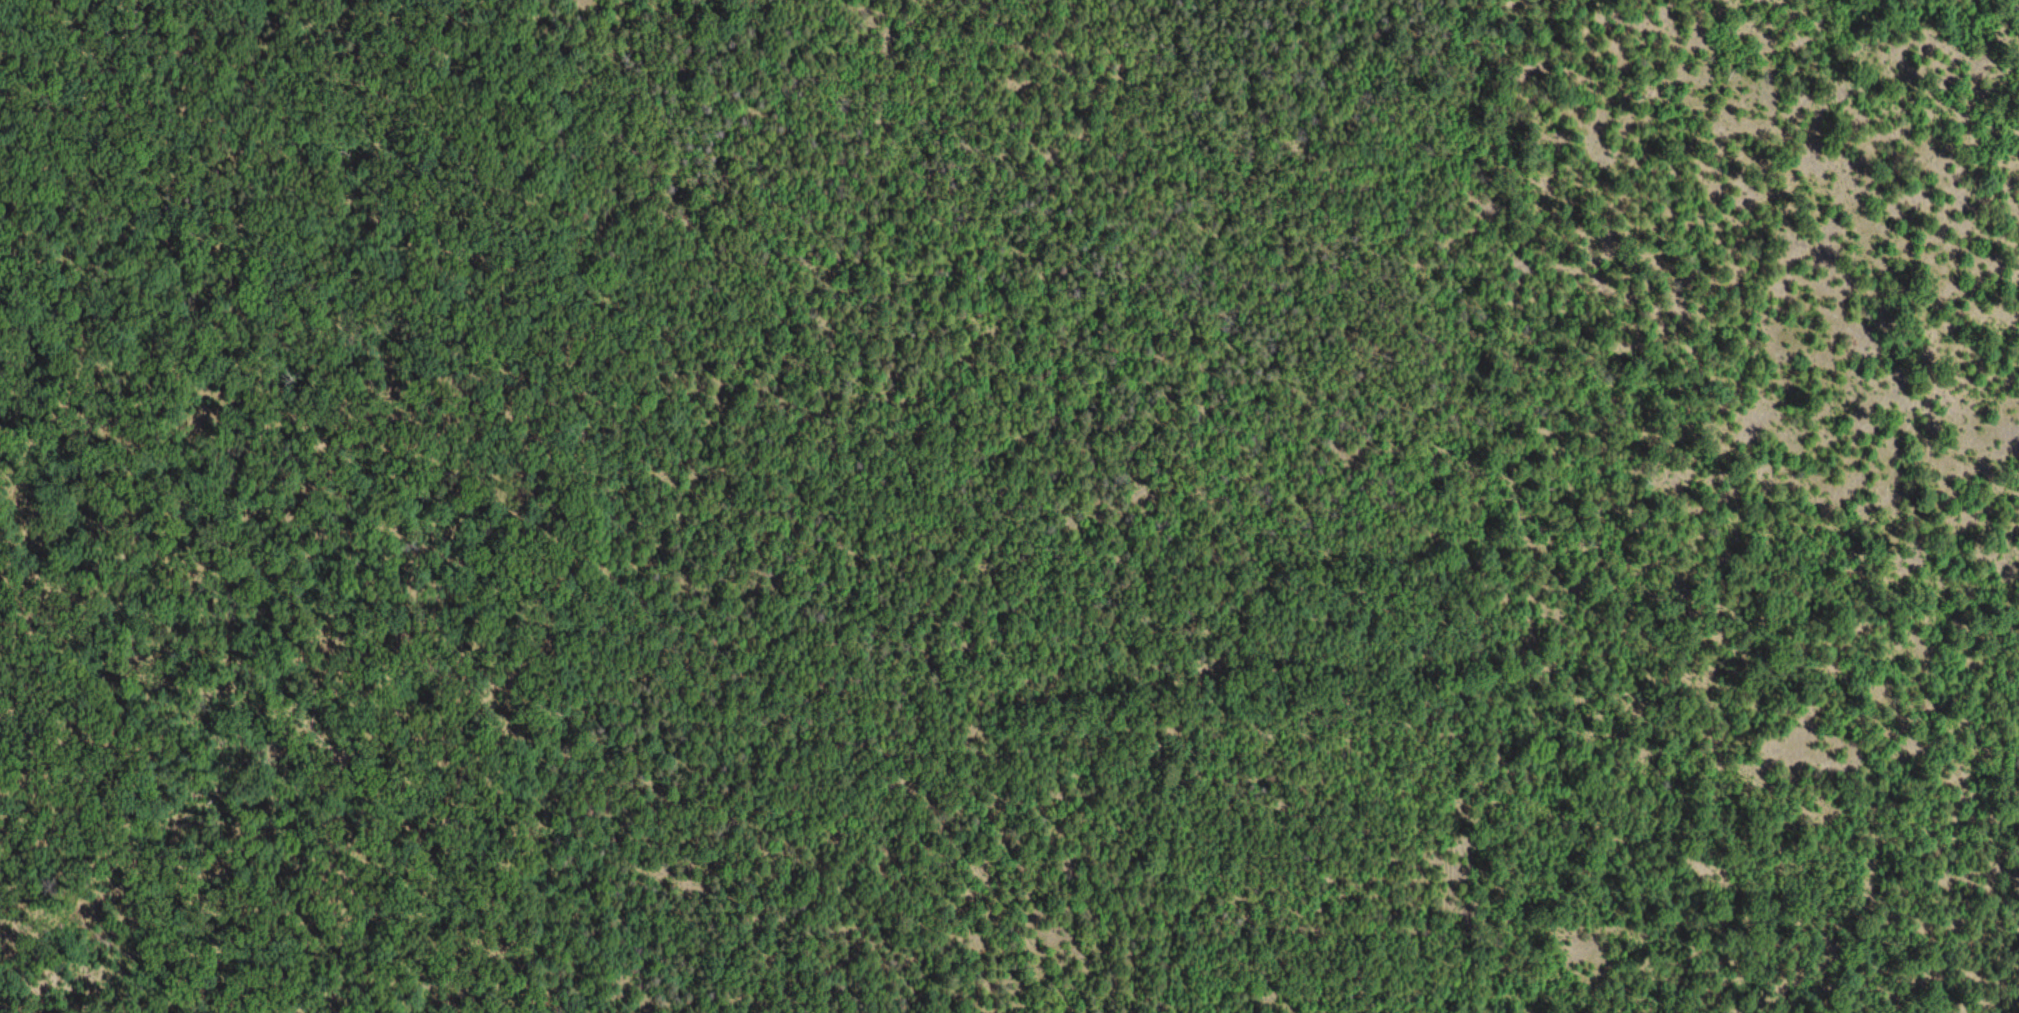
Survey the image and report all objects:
road: (24, 981)

